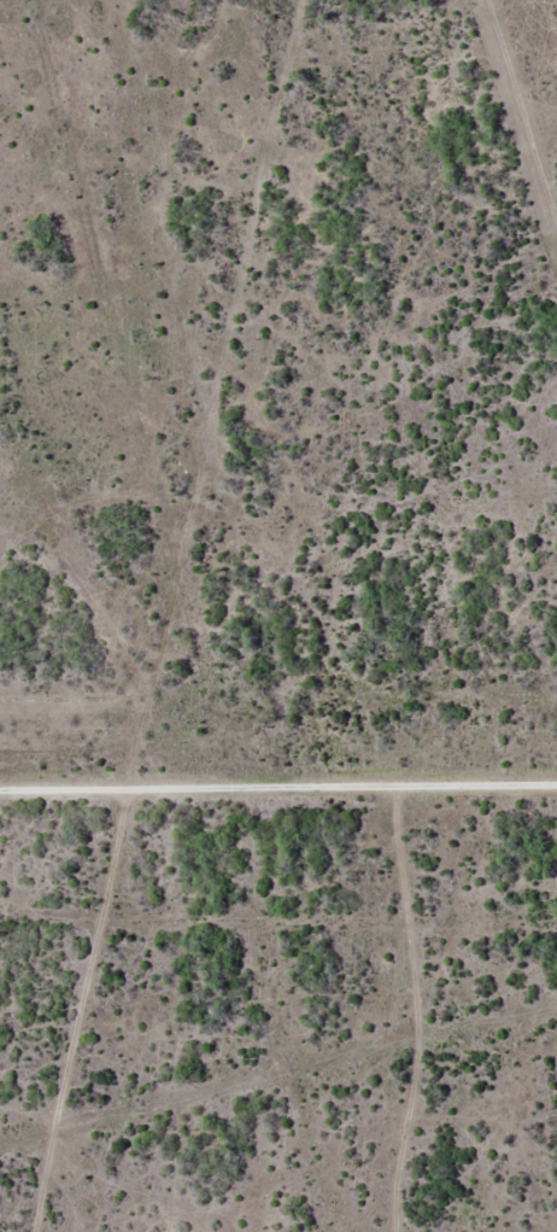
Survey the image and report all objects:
road: (278, 789)

